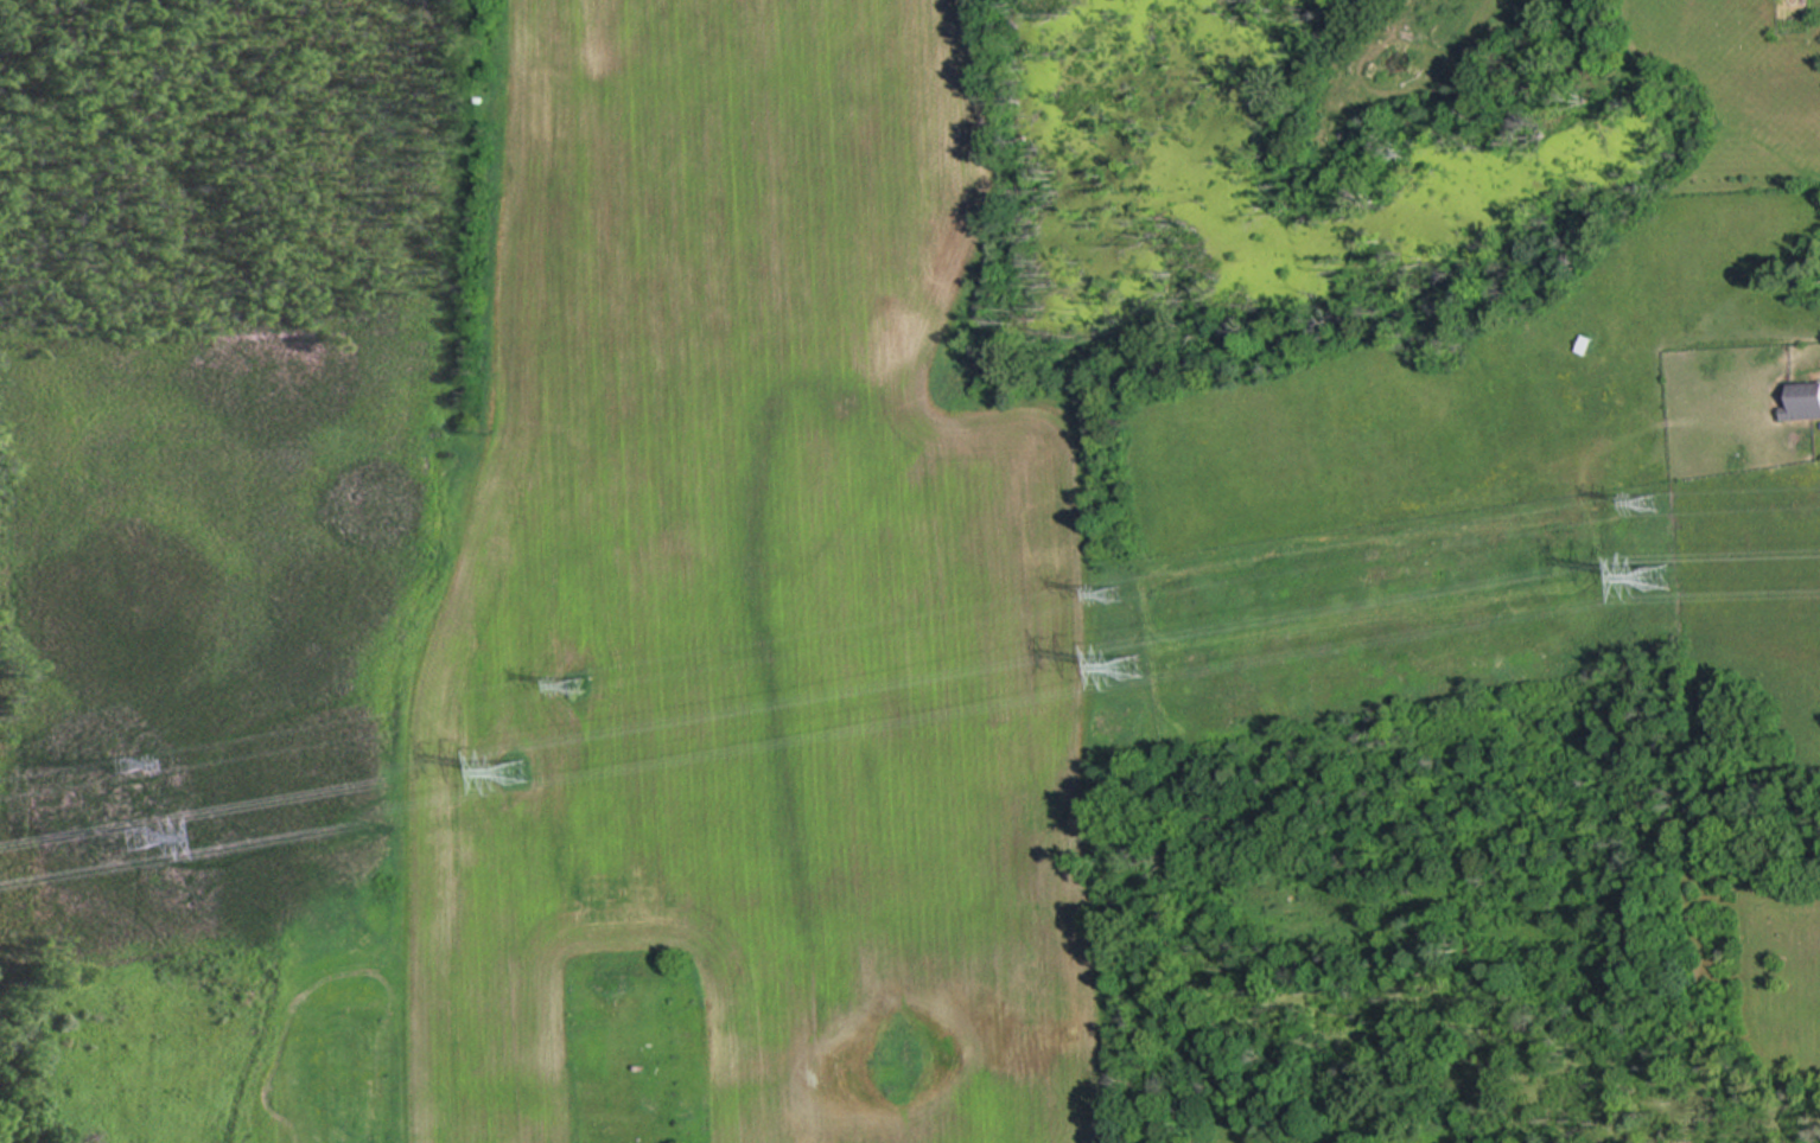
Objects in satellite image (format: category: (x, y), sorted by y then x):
building: (1587, 343)
building: (1801, 398)
power tower: (1640, 502)
power tower: (1657, 575)
power tower: (1113, 594)
power tower: (1126, 666)
power tower: (588, 689)
power tower: (116, 762)
power tower: (520, 770)
power tower: (138, 831)

